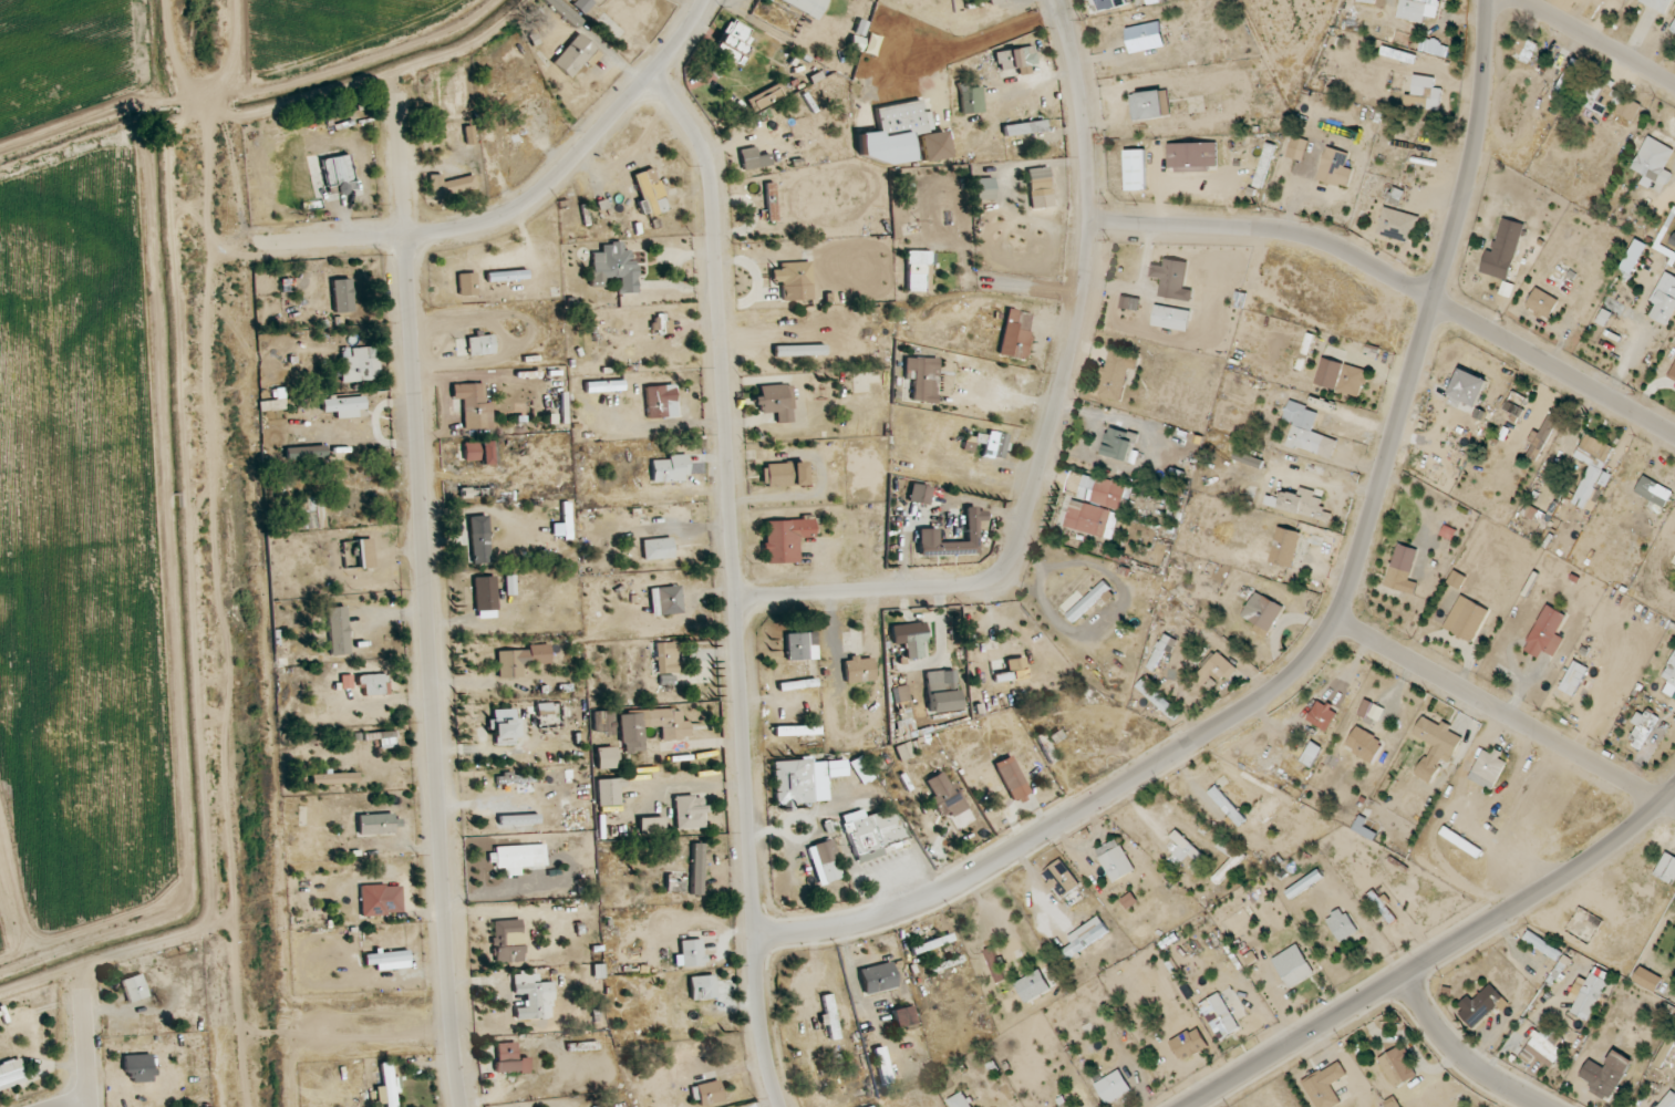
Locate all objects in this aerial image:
building: (1614, 0)
building: (1368, 1)
building: (1107, 3)
building: (582, 4)
building: (1658, 4)
building: (808, 6)
building: (1418, 9)
building: (563, 11)
building: (1144, 37)
building: (734, 40)
road: (982, 40)
road: (1595, 42)
building: (870, 45)
building: (1524, 49)
building: (573, 54)
building: (1015, 58)
building: (1424, 93)
building: (765, 96)
building: (970, 100)
building: (1609, 100)
building: (1148, 105)
building: (902, 120)
building: (1024, 127)
building: (933, 145)
building: (1297, 148)
building: (1191, 155)
building: (748, 157)
building: (1264, 165)
building: (1335, 167)
building: (337, 169)
building: (1135, 169)
building: (449, 184)
building: (1040, 186)
building: (984, 188)
building: (649, 193)
building: (1395, 196)
building: (784, 199)
road: (524, 206)
building: (1398, 225)
building: (1503, 250)
building: (1633, 256)
building: (614, 268)
building: (1171, 278)
building: (794, 279)
road: (1396, 280)
building: (467, 282)
building: (333, 287)
building: (1664, 301)
building: (1542, 303)
building: (1171, 317)
building: (1015, 337)
building: (480, 344)
road: (1633, 344)
building: (799, 350)
building: (360, 363)
building: (1673, 374)
building: (1115, 375)
building: (1348, 377)
building: (924, 380)
building: (1468, 389)
road: (1009, 394)
building: (661, 401)
building: (776, 401)
building: (1516, 404)
building: (474, 405)
building: (345, 406)
road: (1053, 421)
building: (1303, 428)
building: (1542, 437)
building: (989, 443)
building: (1117, 443)
building: (471, 451)
building: (306, 452)
building: (486, 452)
building: (1248, 458)
building: (670, 468)
building: (1592, 472)
building: (784, 474)
building: (1108, 492)
building: (1653, 492)
building: (920, 494)
building: (1304, 504)
building: (1087, 518)
building: (786, 538)
building: (479, 539)
building: (944, 545)
building: (1285, 546)
building: (658, 548)
building: (365, 550)
road: (736, 583)
building: (486, 596)
building: (666, 599)
road: (427, 600)
building: (1089, 600)
building: (1262, 611)
building: (1466, 618)
building: (338, 630)
building: (1547, 632)
road: (1326, 634)
building: (910, 639)
building: (802, 645)
building: (666, 658)
building: (520, 659)
building: (859, 669)
building: (1009, 670)
building: (1213, 670)
building: (1671, 674)
building: (1573, 677)
building: (373, 684)
building: (1158, 699)
building: (1372, 710)
building: (1322, 715)
road: (1506, 716)
building: (506, 726)
building: (650, 726)
building: (1642, 728)
building: (385, 738)
building: (1365, 744)
building: (1436, 745)
building: (1046, 746)
building: (607, 757)
building: (1488, 768)
building: (862, 769)
building: (1013, 777)
building: (335, 778)
building: (806, 779)
building: (945, 795)
building: (1228, 805)
building: (689, 810)
building: (525, 821)
building: (376, 824)
building: (651, 825)
building: (877, 835)
building: (517, 857)
building: (826, 861)
building: (1666, 868)
building: (697, 869)
building: (1061, 878)
road: (1038, 884)
building: (381, 899)
building: (1341, 924)
building: (1086, 935)
building: (507, 940)
building: (933, 943)
building: (693, 952)
road: (1436, 955)
building: (386, 956)
building: (995, 964)
building: (1295, 968)
building: (878, 977)
building: (1647, 979)
building: (1034, 984)
building: (703, 986)
building: (135, 987)
building: (534, 997)
building: (1480, 1004)
building: (1219, 1015)
building: (902, 1016)
building: (830, 1018)
building: (149, 1023)
building: (1189, 1043)
building: (1543, 1047)
road: (84, 1048)
building: (685, 1052)
building: (1664, 1052)
road: (1459, 1055)
building: (510, 1058)
building: (883, 1064)
building: (1397, 1066)
building: (1613, 1072)
building: (11, 1073)
building: (146, 1076)
building: (390, 1084)
building: (1325, 1085)
building: (1114, 1086)
building: (709, 1092)
building: (1668, 1100)

